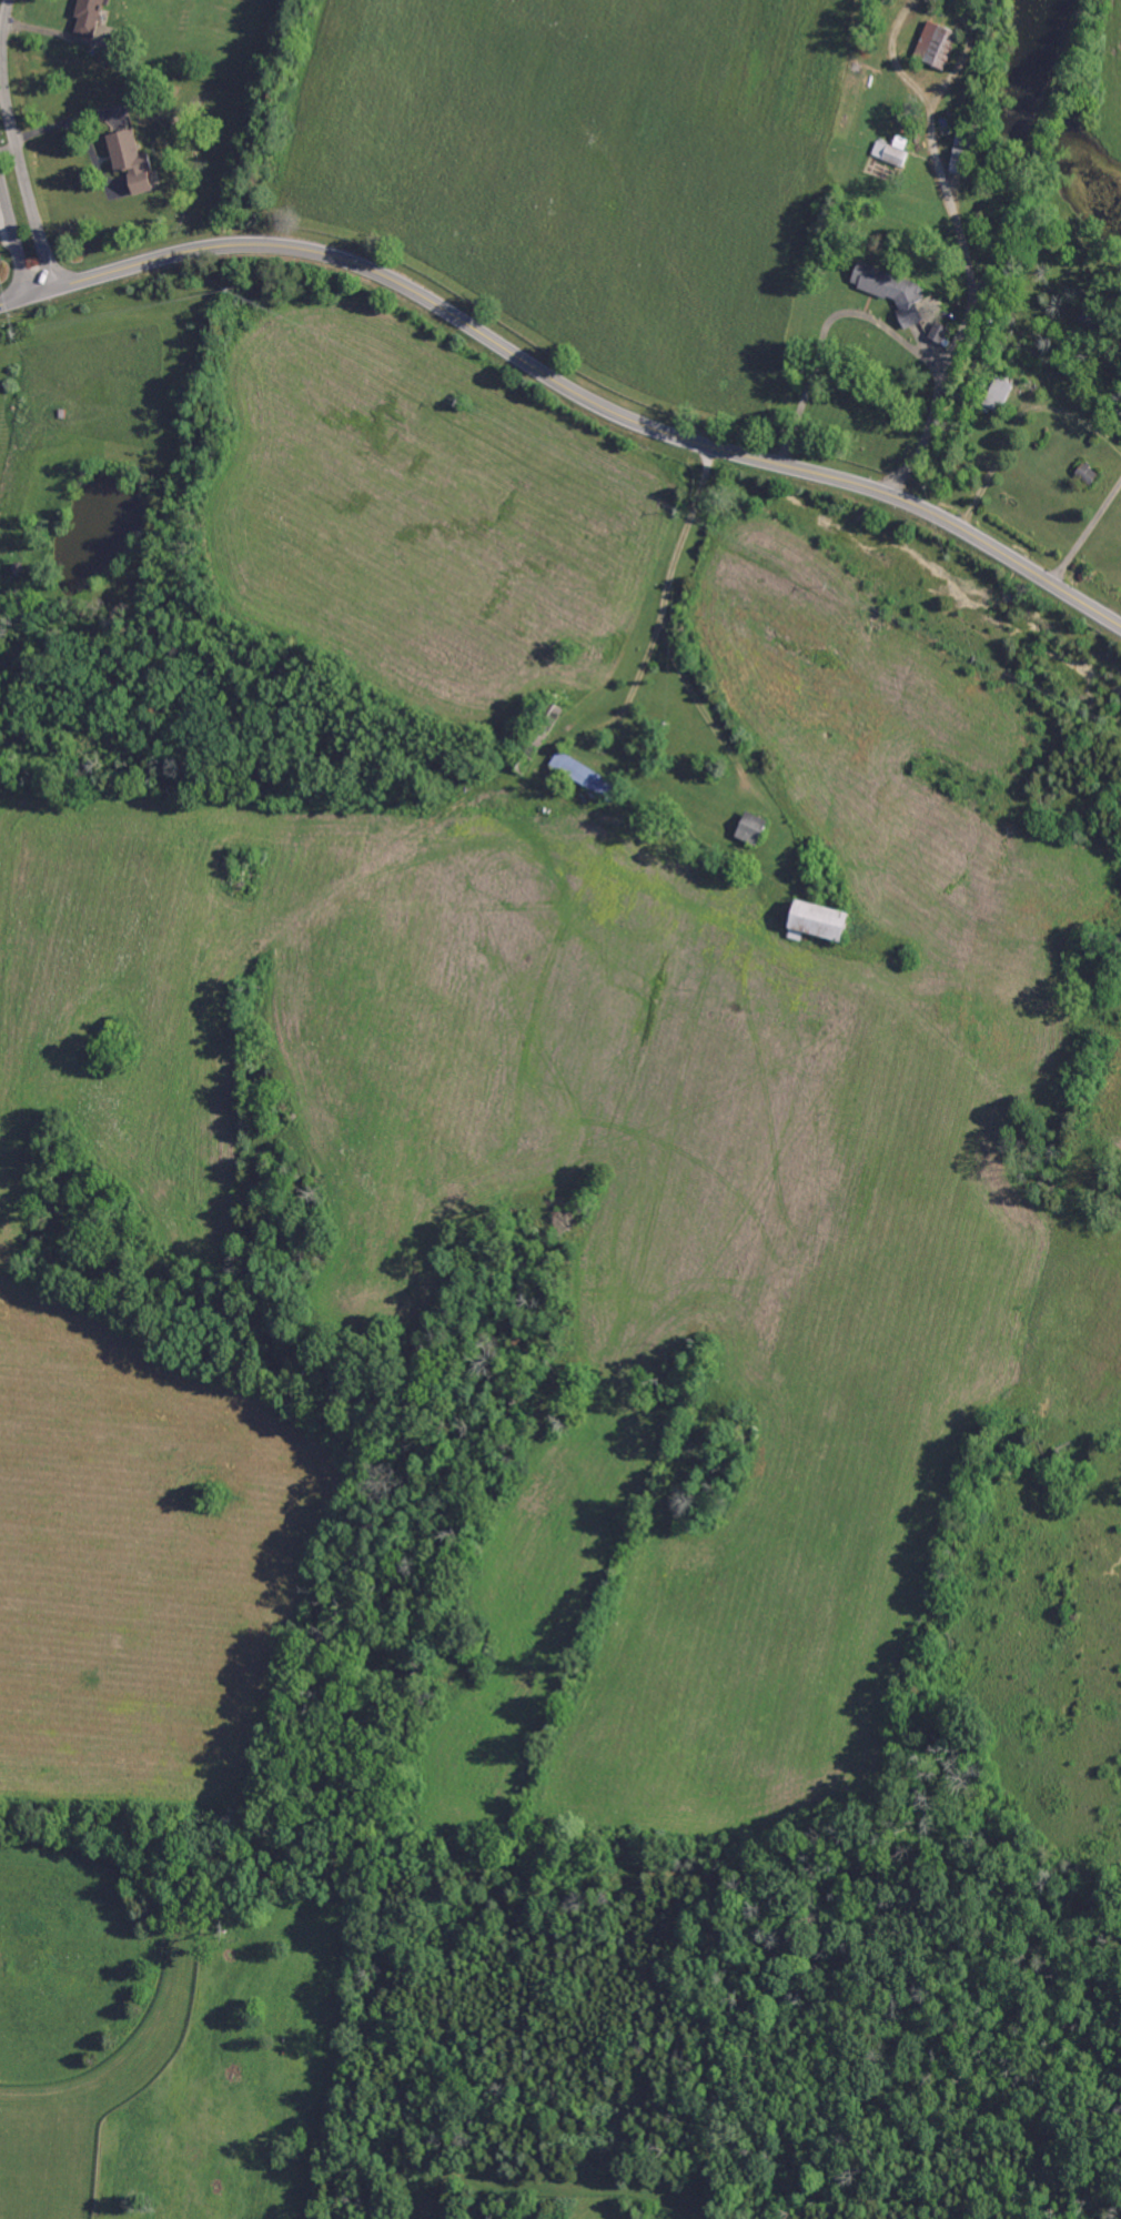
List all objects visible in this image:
building: (90, 16)
road: (0, 24)
building: (938, 44)
road: (958, 56)
road: (886, 57)
building: (967, 140)
road: (6, 143)
road: (11, 145)
building: (893, 151)
building: (965, 160)
building: (133, 161)
road: (960, 244)
road: (11, 246)
building: (892, 291)
road: (879, 320)
building: (1095, 320)
building: (940, 331)
road: (565, 385)
building: (998, 394)
road: (1017, 417)
building: (1088, 473)
road: (1087, 534)
road: (666, 621)
building: (586, 775)
building: (755, 828)
building: (824, 921)

